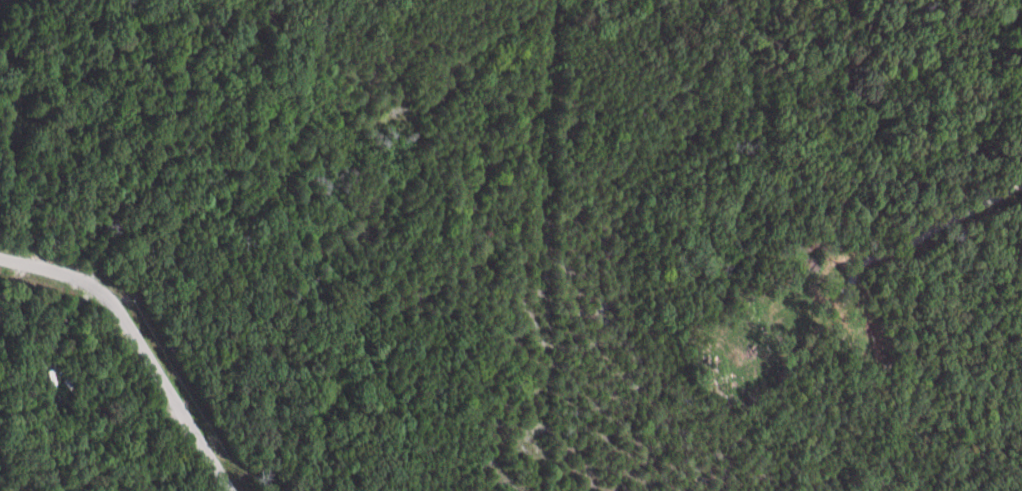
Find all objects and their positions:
road: (133, 346)

